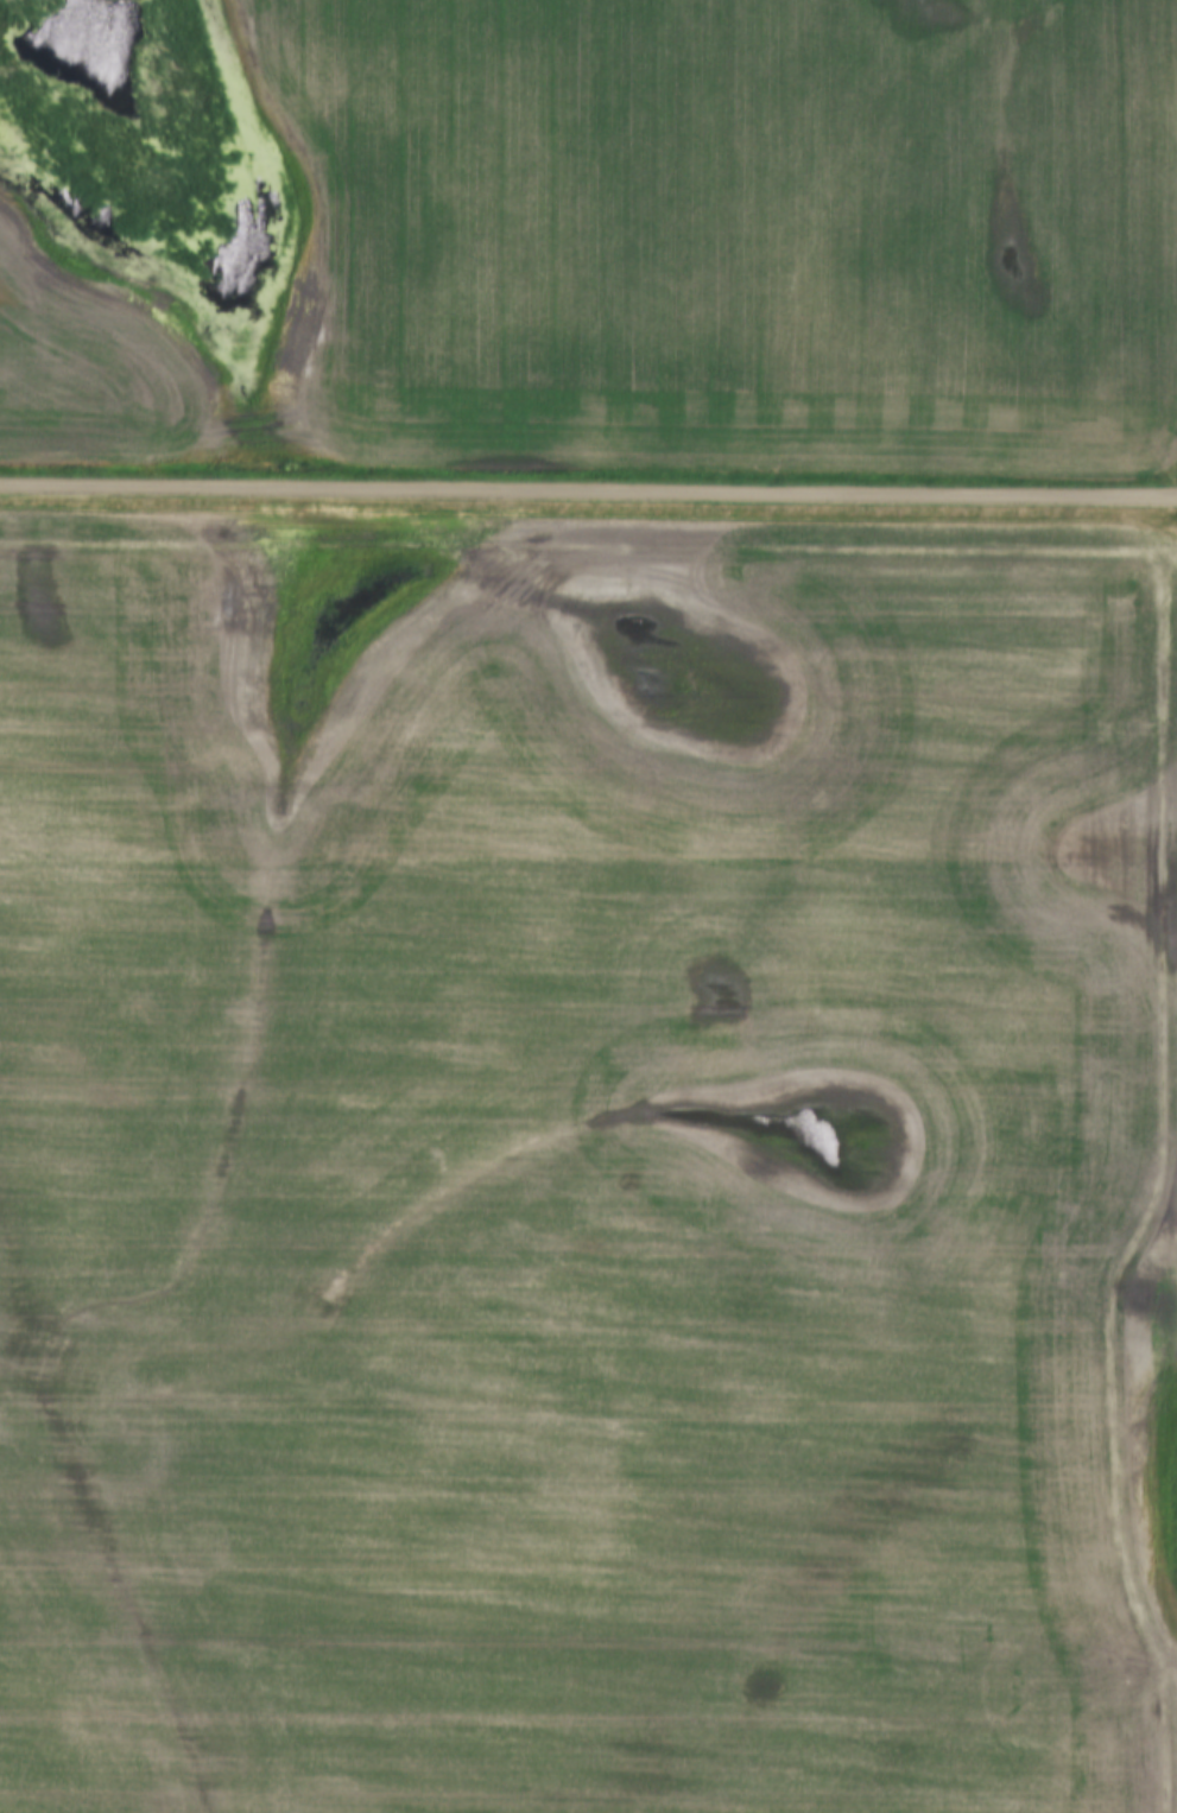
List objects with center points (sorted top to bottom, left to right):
road: (588, 497)

